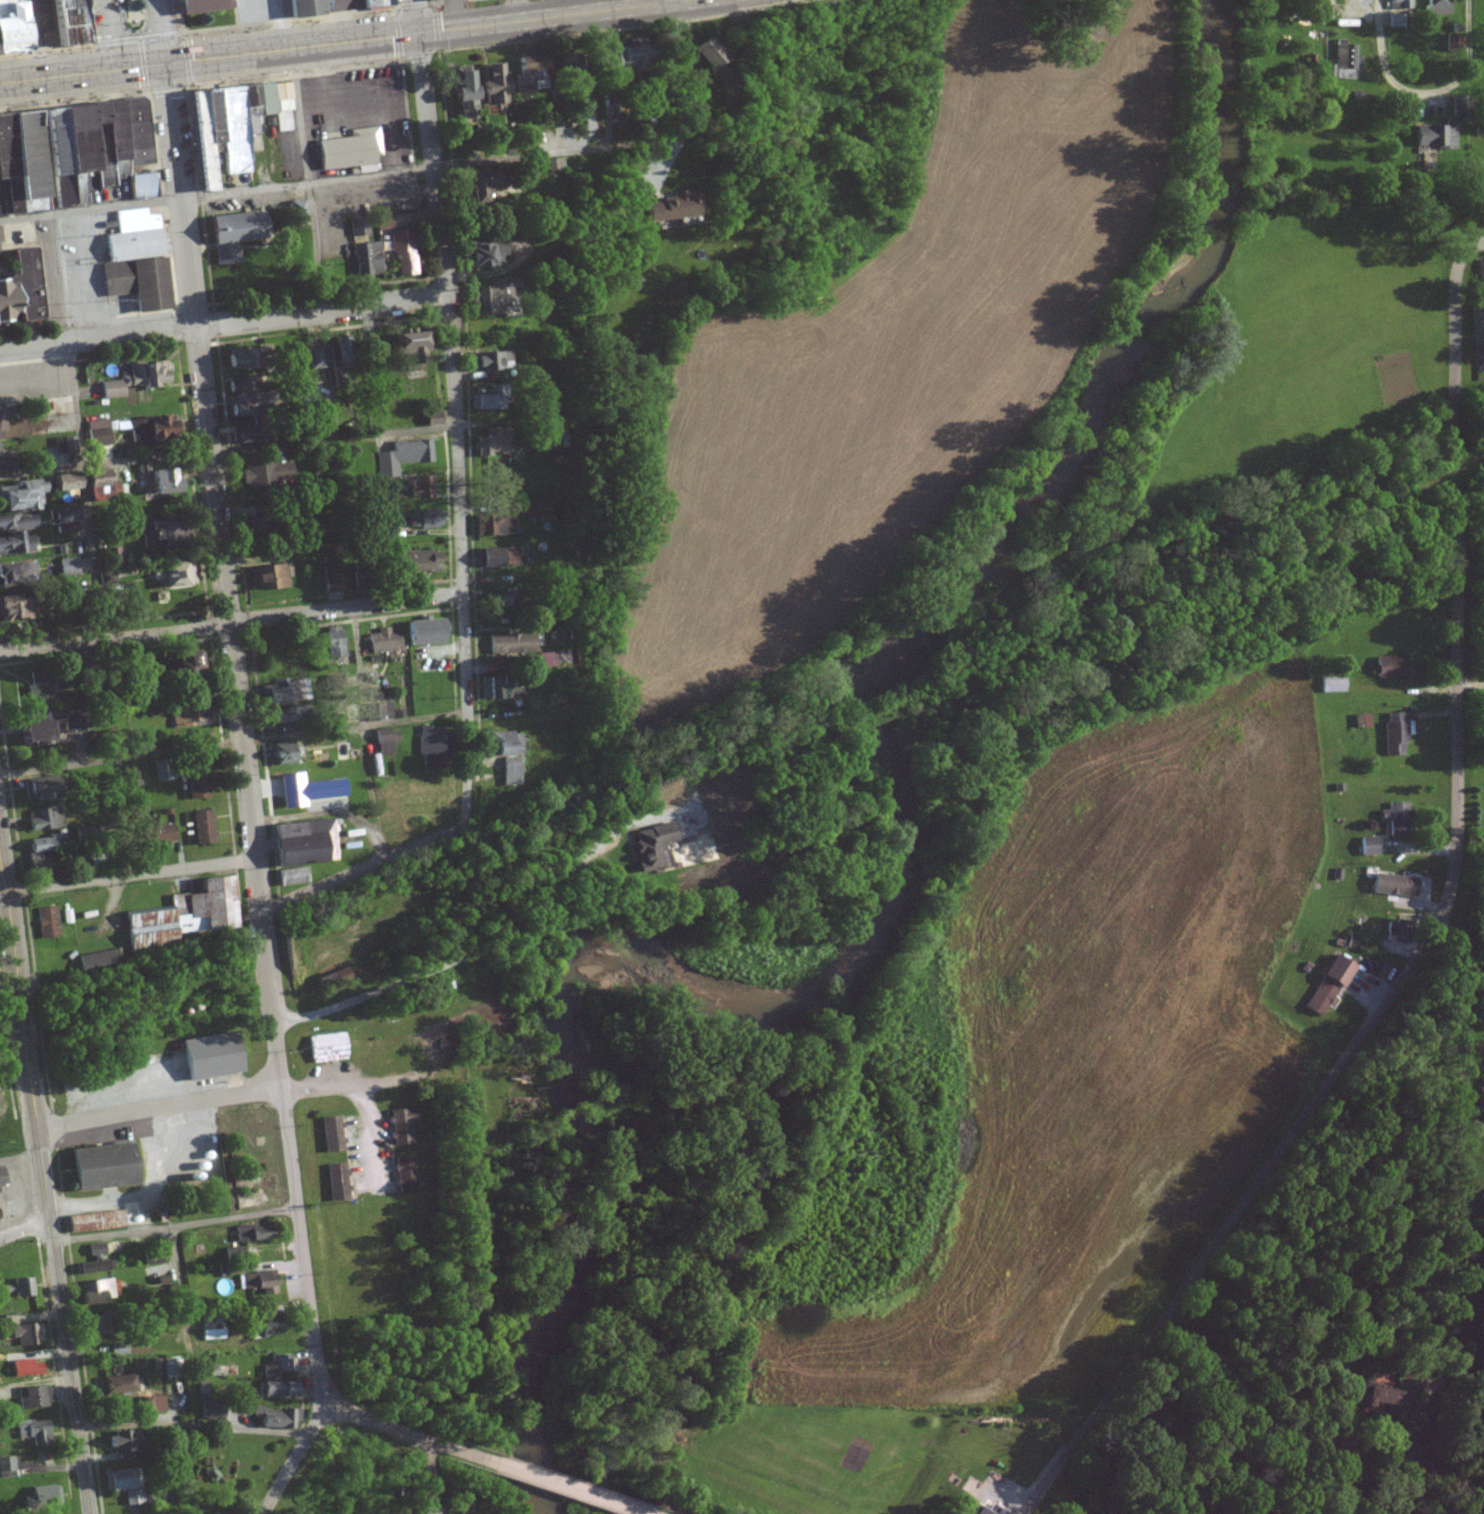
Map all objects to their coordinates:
road: (670, 1)
building: (375, 3)
building: (1403, 3)
building: (202, 6)
building: (1438, 7)
building: (302, 8)
building: (1320, 9)
road: (414, 16)
building: (1397, 20)
building: (65, 22)
building: (10, 27)
road: (161, 31)
road: (101, 35)
road: (34, 39)
road: (341, 41)
building: (706, 53)
building: (1345, 62)
building: (604, 68)
building: (492, 89)
building: (463, 94)
road: (1431, 95)
building: (1461, 107)
building: (232, 125)
building: (1436, 137)
building: (349, 150)
building: (69, 151)
building: (554, 167)
road: (405, 170)
building: (478, 185)
building: (141, 186)
building: (29, 206)
building: (296, 208)
building: (670, 208)
building: (384, 221)
building: (233, 235)
building: (0, 237)
building: (363, 251)
building: (404, 253)
building: (483, 255)
building: (135, 261)
building: (1482, 278)
building: (26, 284)
building: (484, 300)
building: (3, 303)
road: (224, 323)
building: (408, 349)
building: (341, 352)
building: (316, 357)
building: (239, 359)
road: (329, 362)
building: (490, 364)
building: (136, 379)
building: (486, 399)
building: (242, 409)
building: (3, 416)
building: (431, 419)
building: (97, 433)
building: (0, 439)
building: (493, 441)
building: (64, 444)
road: (229, 450)
building: (403, 456)
building: (5, 461)
building: (268, 474)
road: (80, 477)
building: (96, 478)
building: (65, 482)
building: (163, 483)
road: (1477, 484)
building: (423, 486)
road: (1457, 492)
building: (23, 497)
building: (528, 509)
building: (63, 515)
building: (426, 519)
building: (494, 524)
building: (16, 533)
building: (161, 533)
road: (464, 536)
building: (114, 557)
building: (497, 558)
building: (415, 561)
building: (68, 566)
building: (17, 572)
building: (175, 576)
building: (268, 577)
railway: (1228, 577)
building: (332, 578)
road: (1208, 595)
building: (497, 599)
building: (15, 609)
road: (233, 622)
building: (424, 633)
building: (386, 641)
building: (512, 643)
building: (335, 644)
building: (547, 660)
building: (186, 666)
building: (1391, 667)
road: (1468, 682)
building: (1335, 684)
building: (40, 688)
building: (493, 690)
building: (283, 694)
building: (188, 712)
building: (381, 712)
building: (281, 719)
building: (32, 730)
building: (1396, 735)
road: (235, 742)
building: (386, 742)
building: (433, 742)
building: (508, 753)
building: (284, 754)
building: (133, 778)
building: (198, 782)
building: (39, 789)
building: (308, 790)
road: (252, 795)
building: (1399, 818)
building: (45, 819)
building: (204, 827)
building: (158, 834)
building: (304, 843)
building: (42, 845)
building: (1370, 846)
building: (647, 847)
river: (906, 858)
building: (38, 864)
road: (130, 876)
building: (294, 876)
building: (1396, 884)
building: (187, 915)
building: (48, 923)
road: (490, 933)
building: (1396, 933)
road: (1429, 933)
road: (1460, 933)
building: (1338, 970)
building: (1322, 996)
building: (329, 1047)
building: (211, 1055)
road: (361, 1085)
building: (1482, 1095)
road: (161, 1108)
building: (402, 1125)
building: (332, 1133)
road: (370, 1137)
building: (102, 1166)
road: (46, 1169)
building: (406, 1174)
building: (3, 1177)
building: (337, 1181)
building: (97, 1221)
road: (177, 1224)
road: (27, 1230)
building: (253, 1232)
building: (95, 1260)
building: (259, 1283)
building: (24, 1286)
building: (96, 1290)
road: (186, 1323)
building: (96, 1325)
building: (264, 1325)
building: (28, 1333)
building: (214, 1333)
building: (120, 1349)
building: (27, 1367)
building: (215, 1370)
building: (278, 1378)
building: (122, 1384)
building: (34, 1396)
building: (1386, 1398)
building: (152, 1404)
building: (213, 1412)
building: (277, 1417)
road: (194, 1422)
road: (1263, 1422)
building: (34, 1431)
road: (409, 1434)
building: (124, 1440)
road: (427, 1463)
building: (7, 1467)
road: (535, 1475)
building: (124, 1483)
building: (45, 1495)
road: (608, 1500)
building: (428, 1501)
building: (985, 1510)

